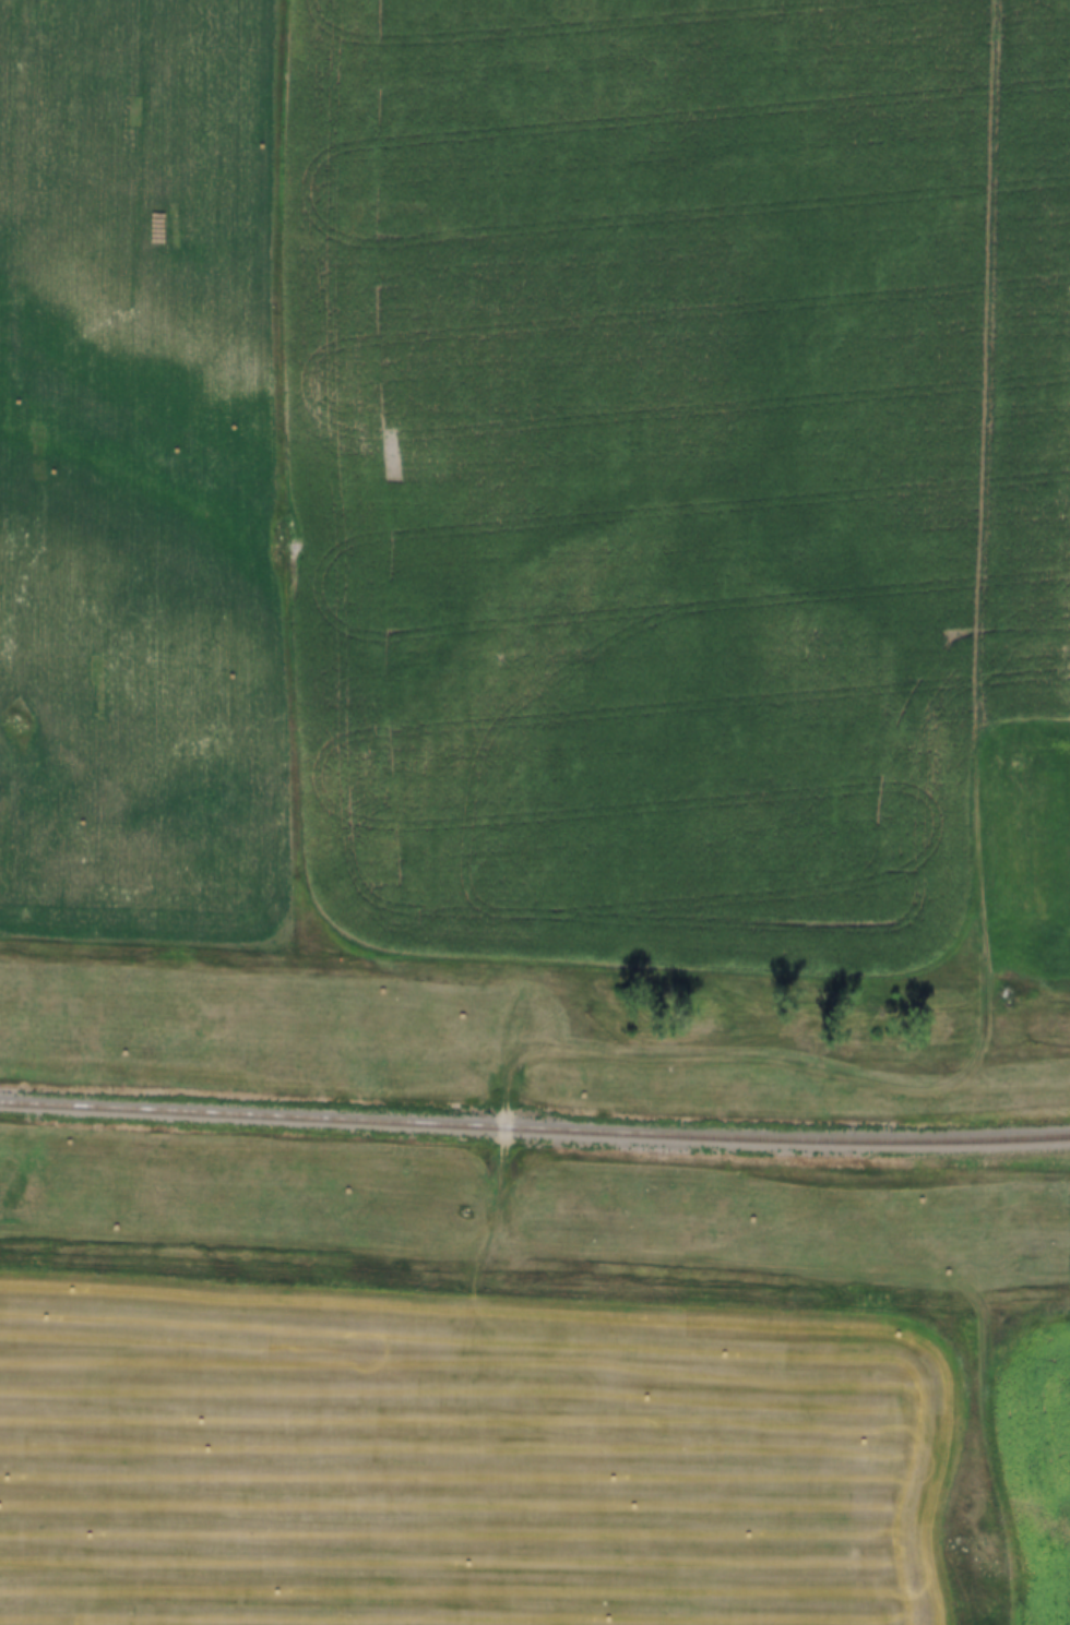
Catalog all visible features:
road: (944, 1083)
railway: (534, 1128)

